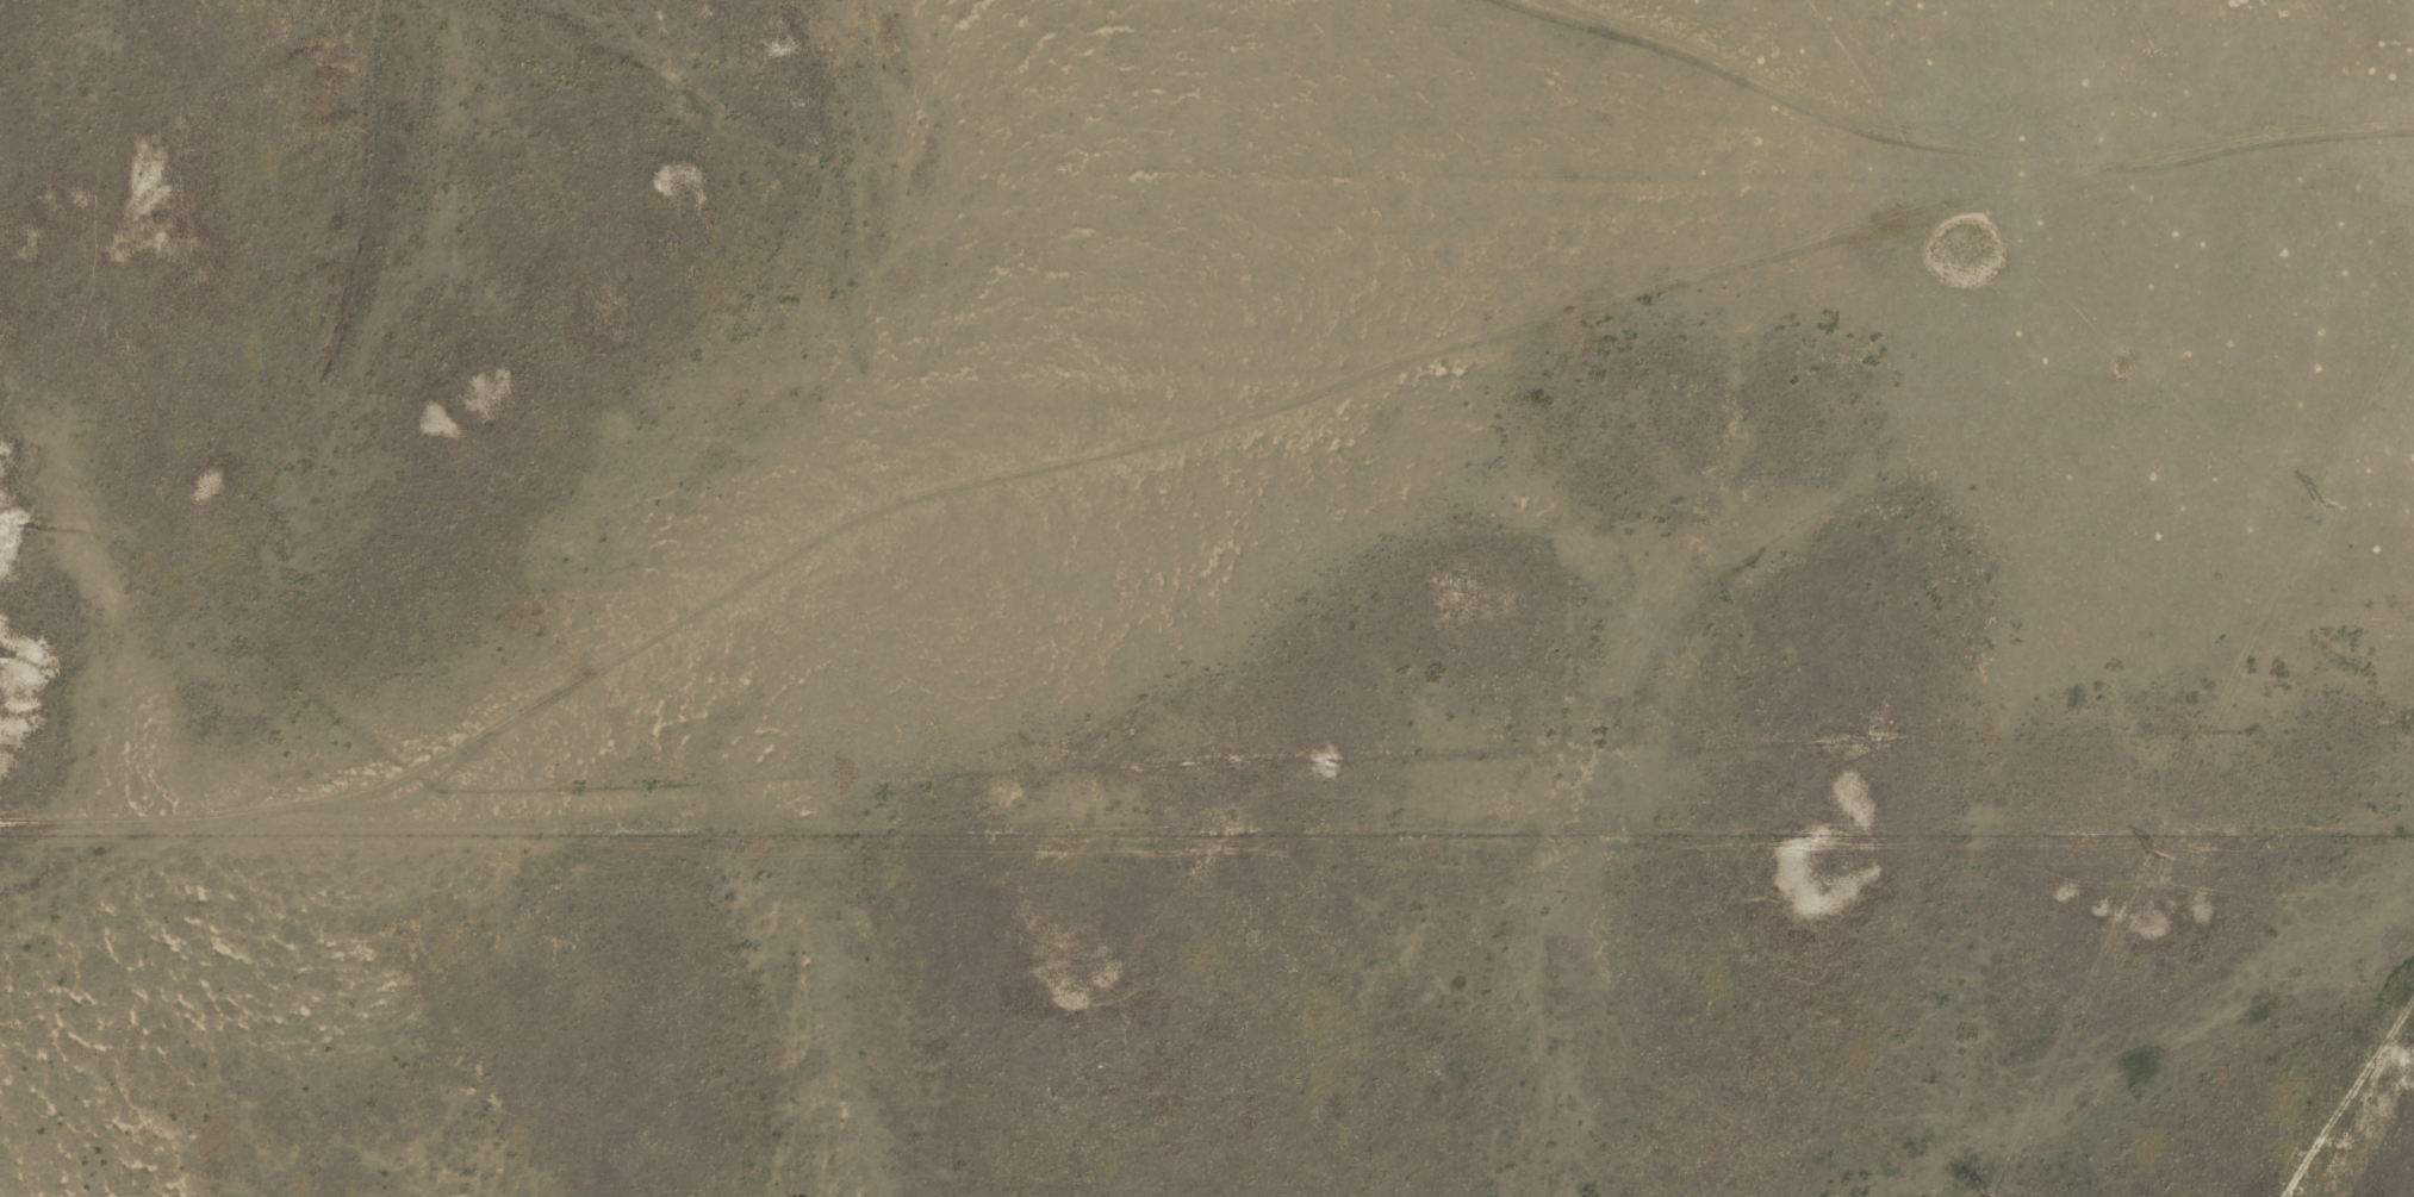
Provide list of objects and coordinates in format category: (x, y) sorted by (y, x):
road: (1966, 197)
power tower: (2315, 497)
road: (976, 501)
power tower: (2146, 859)

